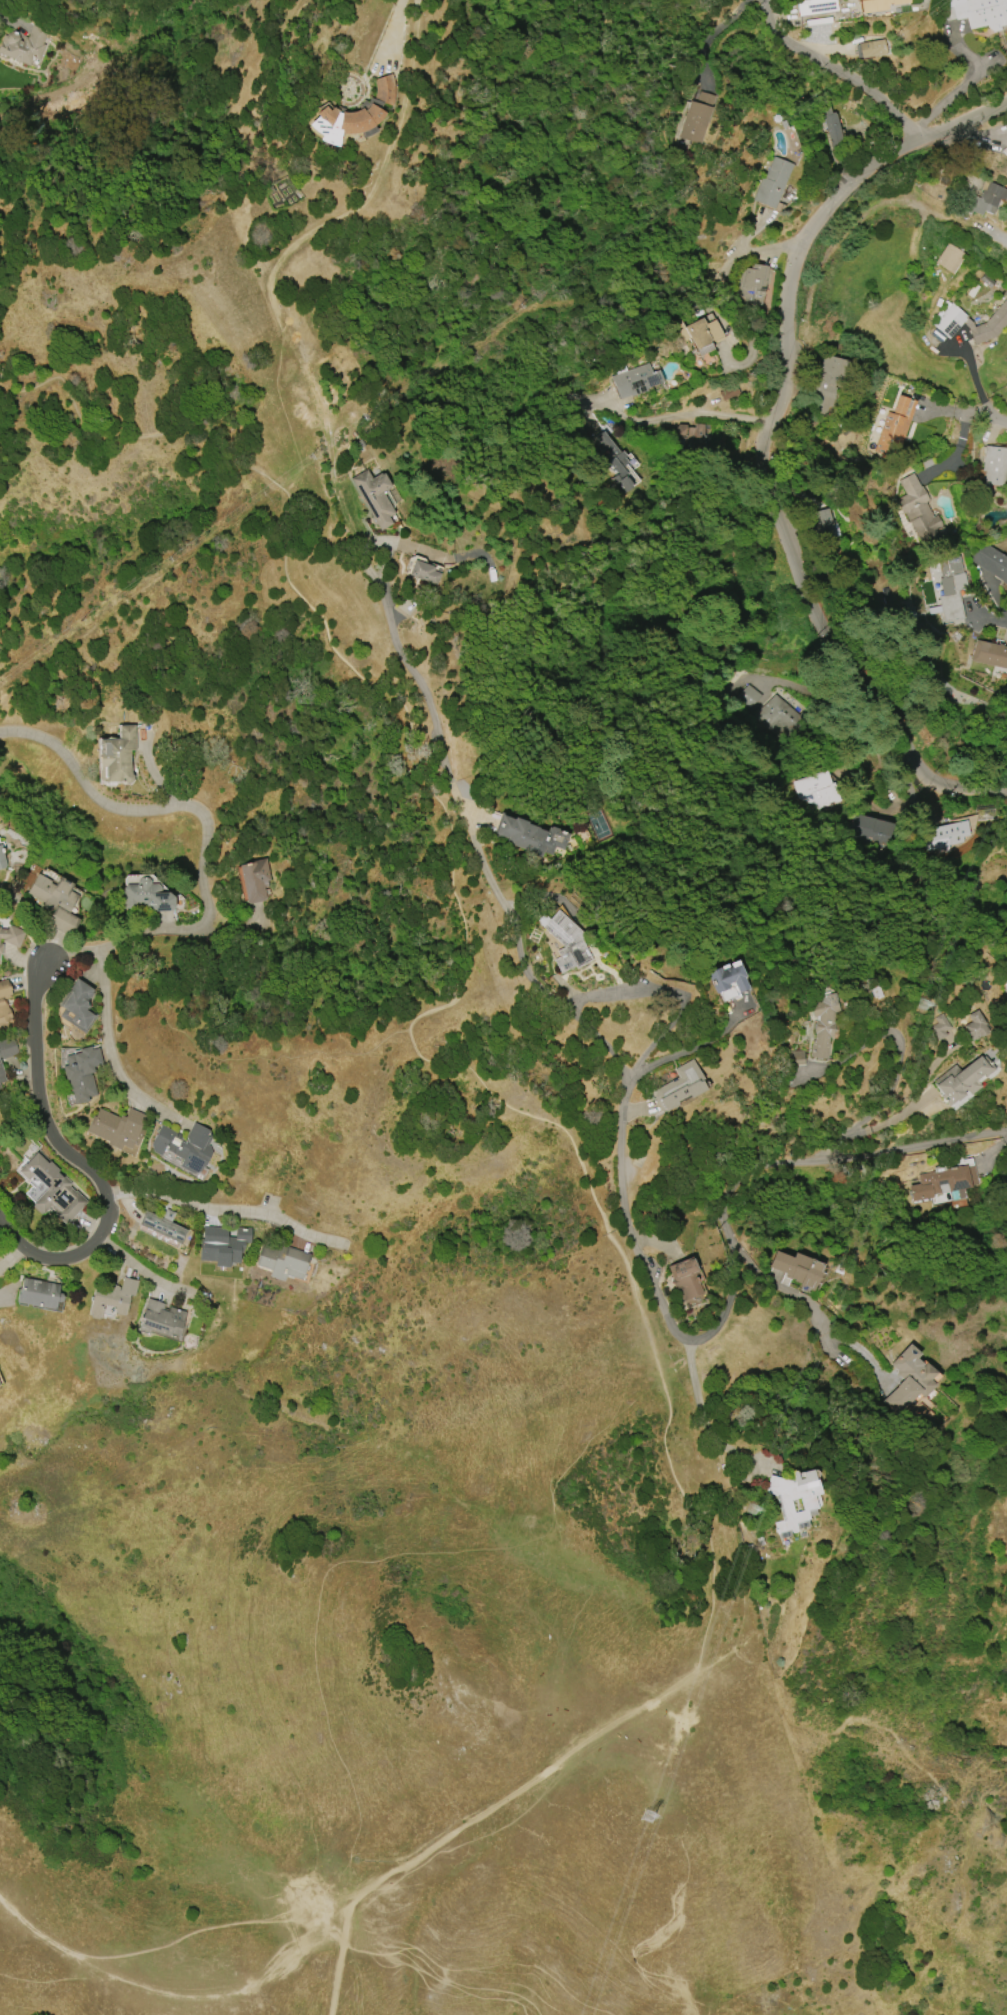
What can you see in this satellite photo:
building: (876, 4)
building: (815, 6)
building: (979, 12)
road: (418, 20)
building: (817, 21)
road: (717, 35)
building: (24, 46)
building: (872, 48)
road: (838, 69)
road: (963, 85)
building: (353, 114)
building: (696, 117)
building: (831, 123)
building: (1006, 143)
building: (771, 182)
building: (985, 198)
building: (949, 258)
building: (753, 282)
building: (952, 319)
building: (698, 333)
building: (635, 380)
building: (826, 384)
building: (728, 392)
road: (677, 417)
road: (990, 417)
building: (895, 424)
building: (682, 430)
building: (696, 436)
road: (765, 440)
building: (615, 463)
building: (994, 465)
building: (374, 496)
building: (917, 508)
building: (992, 561)
building: (423, 572)
road: (146, 587)
building: (951, 588)
building: (989, 654)
building: (751, 697)
building: (780, 717)
building: (116, 756)
building: (819, 790)
building: (871, 829)
building: (530, 835)
building: (949, 835)
road: (206, 841)
building: (2, 859)
building: (254, 879)
building: (146, 896)
building: (56, 901)
road: (461, 913)
building: (11, 935)
building: (567, 943)
building: (1, 948)
building: (1005, 976)
building: (728, 981)
road: (673, 993)
building: (4, 1001)
building: (77, 1006)
power tower: (941, 1008)
building: (823, 1023)
building: (975, 1026)
building: (939, 1027)
road: (590, 1031)
road: (111, 1039)
road: (700, 1043)
building: (7, 1048)
building: (795, 1058)
road: (900, 1061)
building: (81, 1073)
building: (1, 1074)
building: (962, 1078)
building: (0, 1087)
building: (678, 1087)
building: (117, 1127)
building: (184, 1146)
road: (919, 1147)
road: (78, 1164)
building: (943, 1180)
building: (52, 1188)
road: (222, 1201)
building: (163, 1225)
building: (222, 1244)
road: (12, 1256)
building: (282, 1262)
road: (136, 1266)
building: (797, 1268)
building: (685, 1279)
building: (38, 1293)
building: (112, 1298)
road: (817, 1318)
building: (160, 1319)
building: (909, 1379)
road: (703, 1416)
building: (795, 1499)
power tower: (775, 1505)
road: (486, 1802)
power tower: (664, 1816)
road: (429, 1973)
road: (169, 1991)

